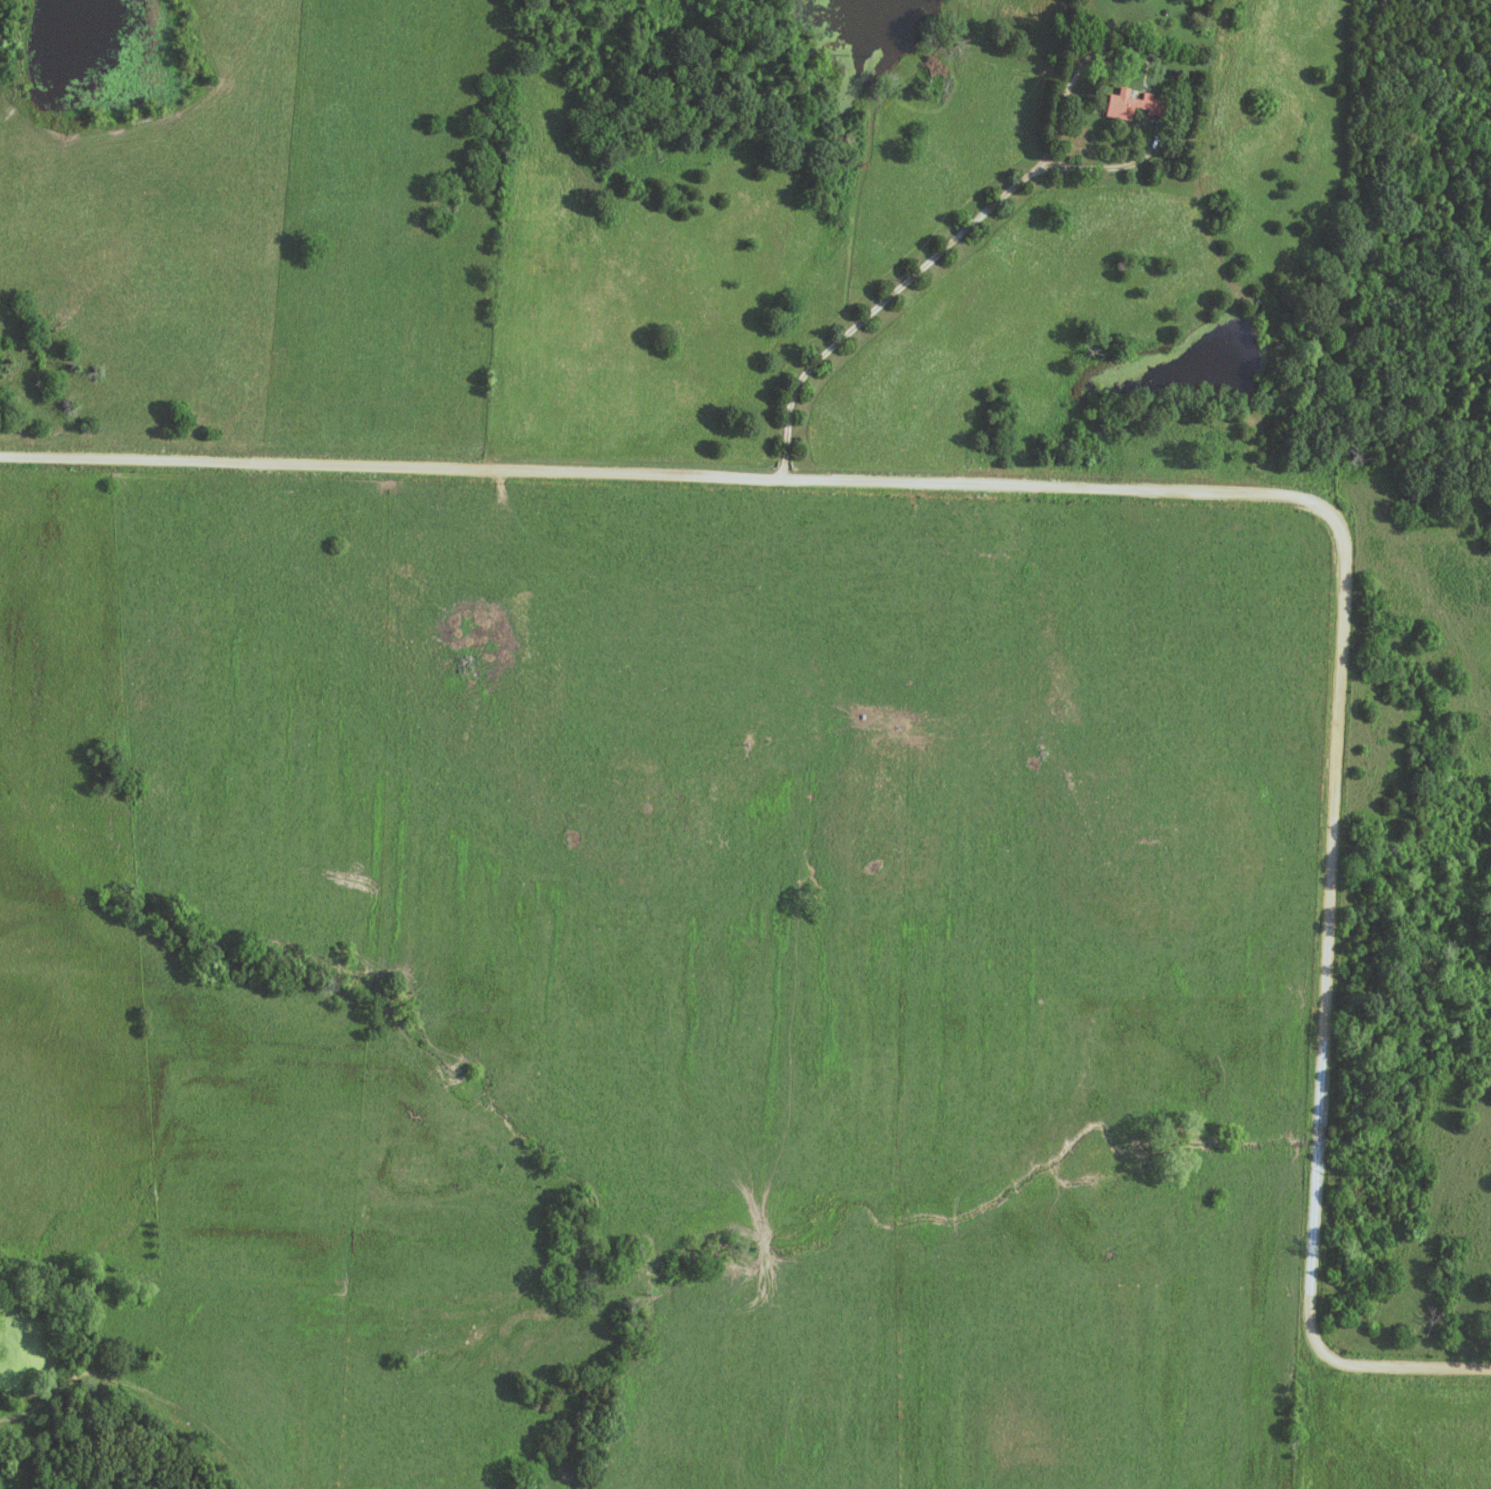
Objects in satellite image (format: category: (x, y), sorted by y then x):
road: (1109, 92)
building: (1128, 104)
road: (892, 300)
road: (1176, 492)

